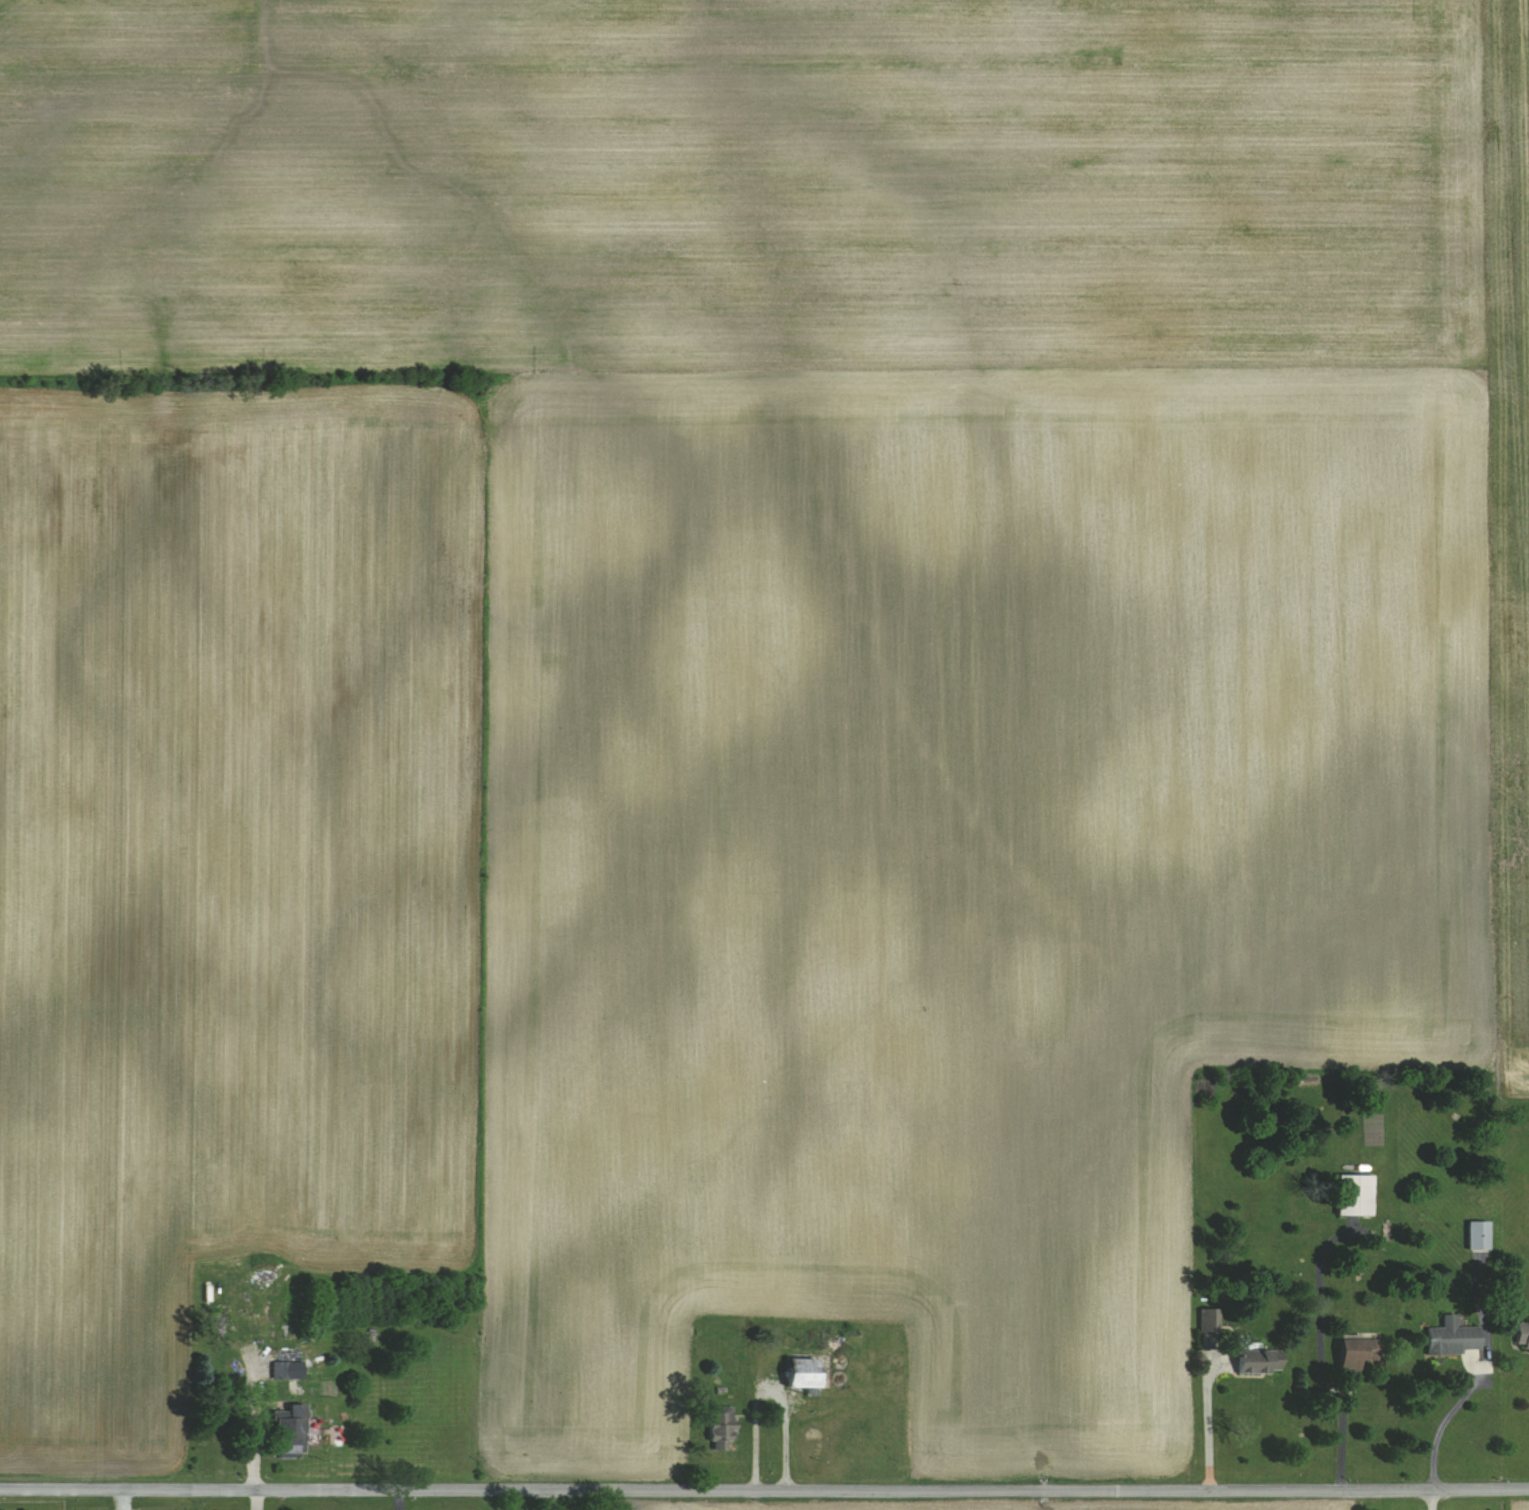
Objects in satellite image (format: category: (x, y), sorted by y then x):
building: (1355, 1195)
building: (1478, 1236)
building: (1209, 1320)
building: (1522, 1334)
building: (1452, 1338)
building: (1356, 1355)
building: (1257, 1363)
building: (280, 1369)
building: (802, 1373)
road: (768, 1394)
road: (1437, 1422)
building: (720, 1428)
road: (1206, 1429)
building: (289, 1431)
road: (1340, 1438)
road: (764, 1490)

